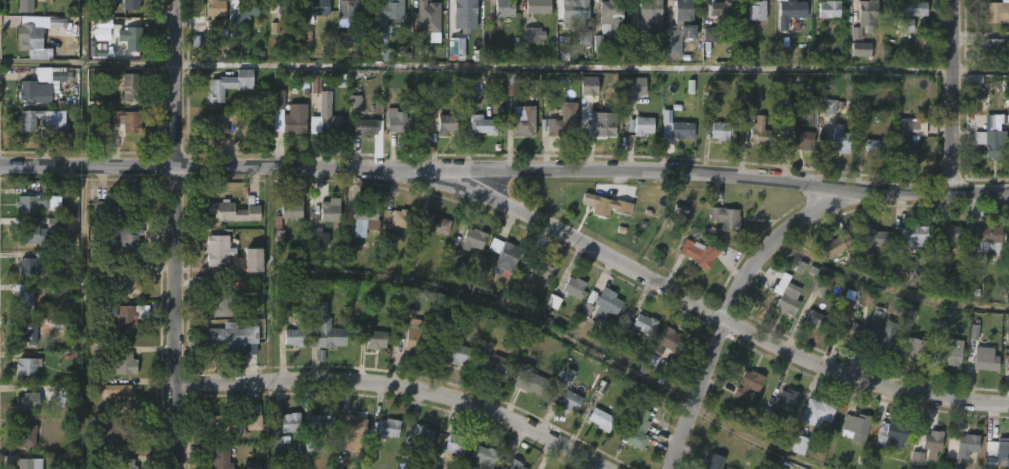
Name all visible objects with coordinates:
building: (132, 5)
building: (26, 6)
building: (539, 6)
building: (283, 7)
building: (467, 7)
building: (506, 8)
building: (245, 9)
building: (389, 9)
building: (828, 9)
building: (573, 10)
building: (353, 11)
building: (649, 11)
building: (755, 11)
building: (999, 11)
building: (215, 12)
building: (722, 12)
building: (790, 12)
building: (909, 14)
building: (311, 15)
building: (429, 16)
building: (610, 16)
building: (865, 17)
building: (679, 27)
building: (274, 28)
building: (102, 30)
building: (38, 33)
building: (709, 34)
building: (533, 35)
building: (132, 38)
building: (584, 38)
building: (599, 43)
building: (861, 49)
building: (995, 51)
building: (653, 53)
building: (386, 54)
building: (745, 54)
road: (569, 67)
road: (983, 69)
building: (41, 84)
building: (315, 84)
building: (511, 84)
building: (229, 85)
building: (635, 85)
building: (131, 86)
building: (588, 86)
building: (474, 93)
road: (957, 98)
building: (354, 101)
building: (789, 102)
building: (828, 106)
building: (326, 113)
building: (287, 117)
building: (122, 120)
building: (222, 120)
building: (42, 121)
building: (522, 121)
building: (400, 122)
building: (447, 123)
building: (602, 123)
building: (862, 123)
building: (478, 124)
building: (639, 126)
building: (366, 127)
building: (562, 127)
building: (675, 129)
building: (723, 130)
building: (758, 131)
building: (905, 137)
building: (805, 139)
building: (838, 139)
building: (990, 144)
building: (874, 146)
road: (505, 168)
building: (38, 203)
building: (604, 205)
building: (119, 207)
building: (289, 210)
building: (236, 211)
building: (329, 212)
building: (367, 212)
building: (723, 217)
building: (402, 220)
building: (437, 224)
building: (946, 233)
building: (32, 234)
road: (180, 234)
building: (913, 235)
building: (320, 237)
building: (875, 238)
building: (981, 238)
building: (128, 243)
building: (465, 244)
building: (839, 245)
building: (216, 249)
building: (701, 254)
building: (506, 257)
building: (249, 259)
building: (540, 267)
building: (30, 269)
building: (121, 282)
building: (573, 286)
building: (819, 288)
road: (679, 295)
building: (790, 298)
building: (865, 298)
building: (25, 299)
building: (223, 299)
road: (740, 300)
building: (553, 302)
building: (588, 304)
building: (604, 304)
building: (126, 318)
building: (819, 320)
building: (55, 323)
building: (642, 323)
building: (847, 328)
building: (992, 328)
building: (878, 330)
building: (28, 334)
building: (325, 334)
building: (231, 335)
building: (293, 336)
building: (414, 336)
building: (378, 340)
building: (669, 346)
building: (914, 346)
building: (948, 350)
building: (459, 354)
building: (985, 358)
building: (123, 360)
building: (1007, 362)
building: (27, 367)
building: (497, 369)
building: (527, 381)
building: (748, 383)
road: (403, 385)
building: (114, 393)
building: (67, 397)
building: (571, 401)
building: (30, 402)
building: (775, 403)
building: (254, 408)
building: (816, 411)
building: (599, 418)
building: (290, 421)
building: (233, 423)
building: (321, 423)
building: (355, 426)
building: (387, 426)
building: (857, 427)
building: (636, 429)
building: (28, 434)
building: (890, 435)
building: (113, 436)
building: (932, 440)
building: (453, 443)
building: (278, 444)
building: (309, 444)
building: (417, 444)
building: (797, 444)
building: (963, 449)
building: (1004, 452)
building: (219, 456)
building: (481, 457)
building: (916, 458)
building: (712, 461)
building: (29, 463)
building: (124, 465)
building: (253, 465)
building: (511, 465)
building: (782, 467)

